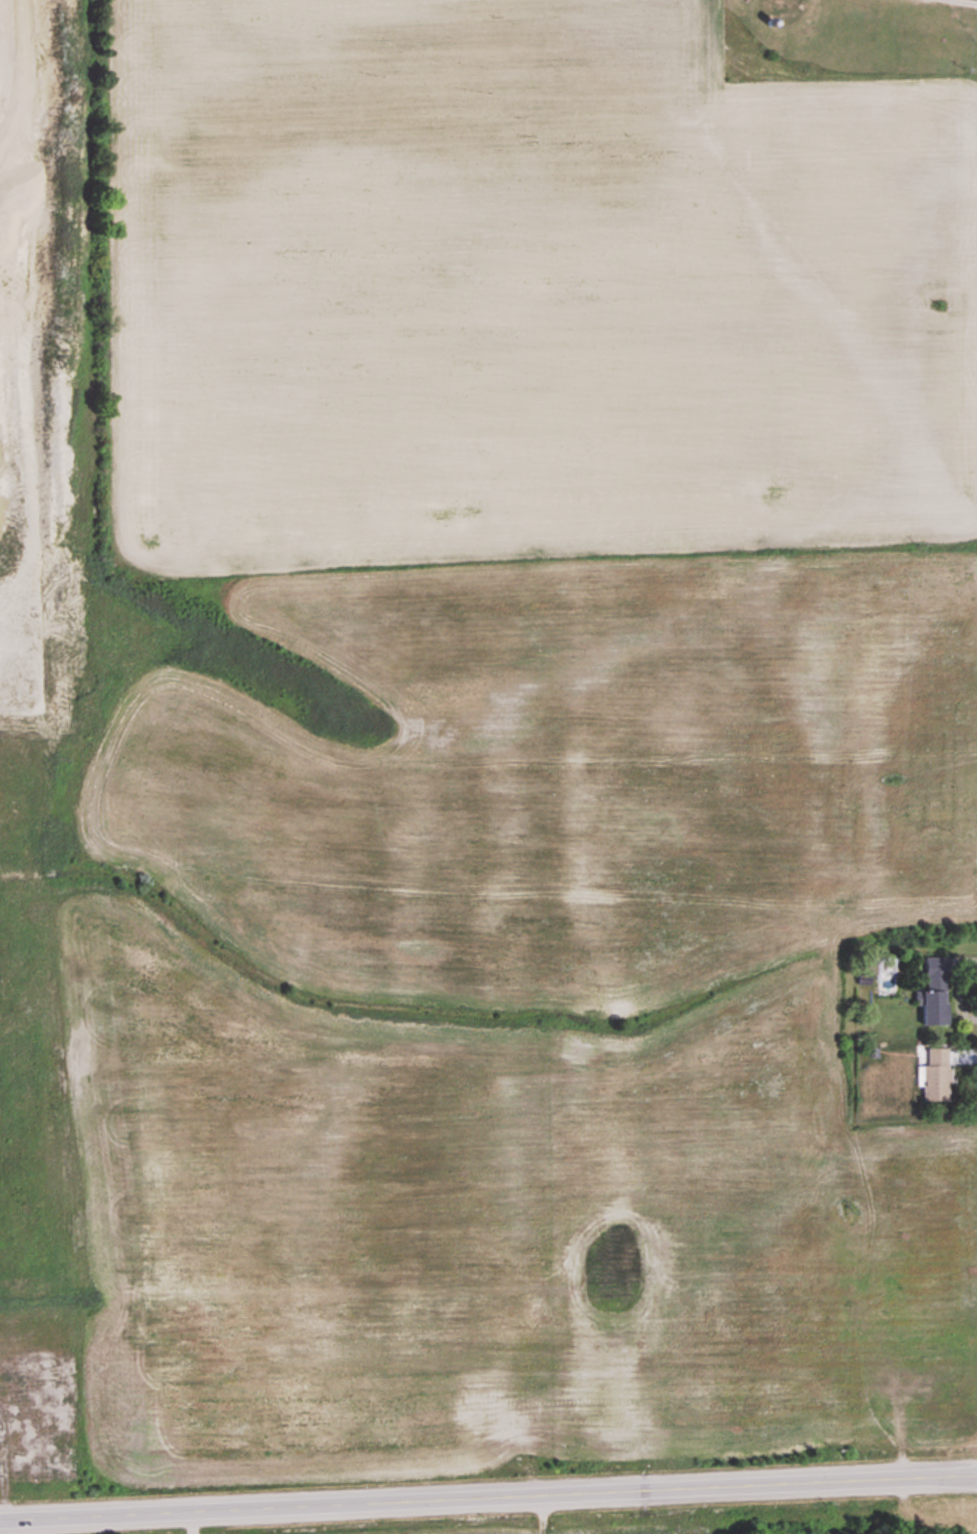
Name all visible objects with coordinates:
building: (785, 6)
building: (935, 992)
building: (935, 1076)
road: (488, 1499)

